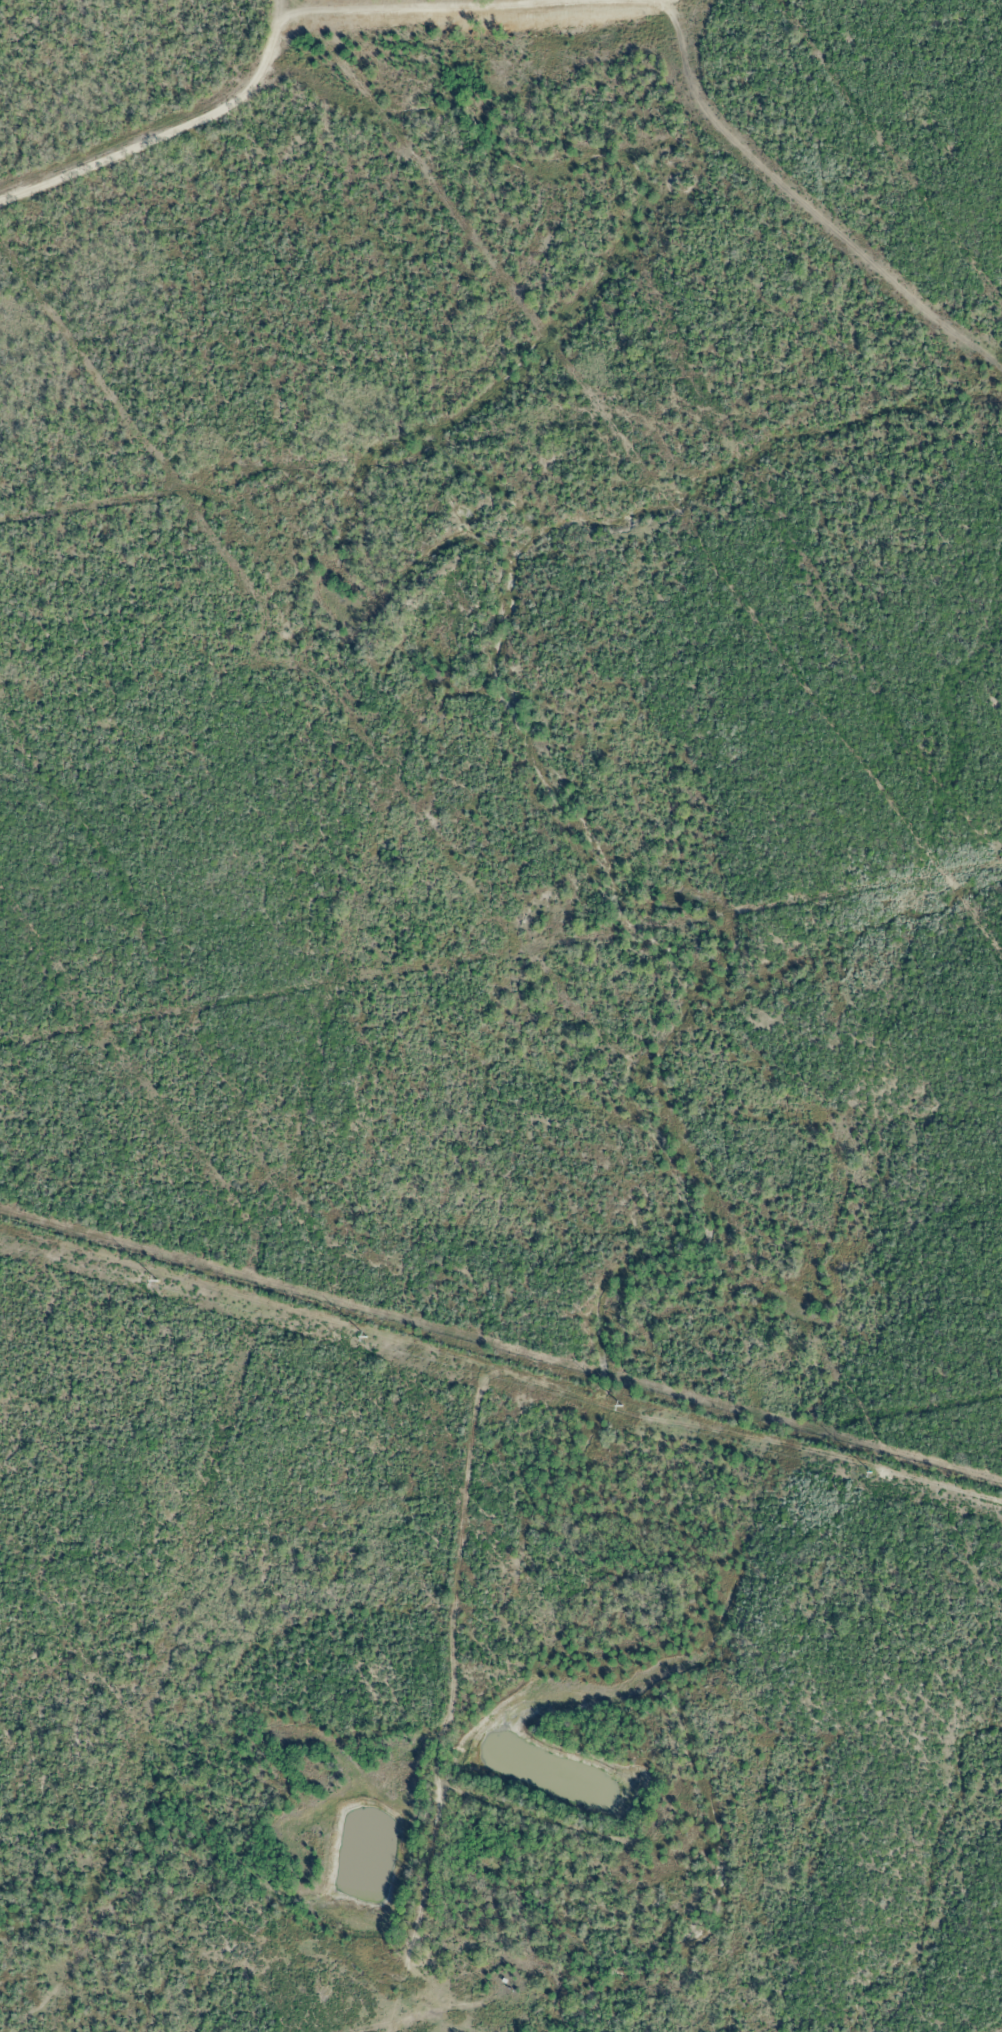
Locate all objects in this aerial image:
road: (143, 141)
power tower: (156, 1280)
power tower: (363, 1335)
power tower: (620, 1405)
power tower: (869, 1471)

